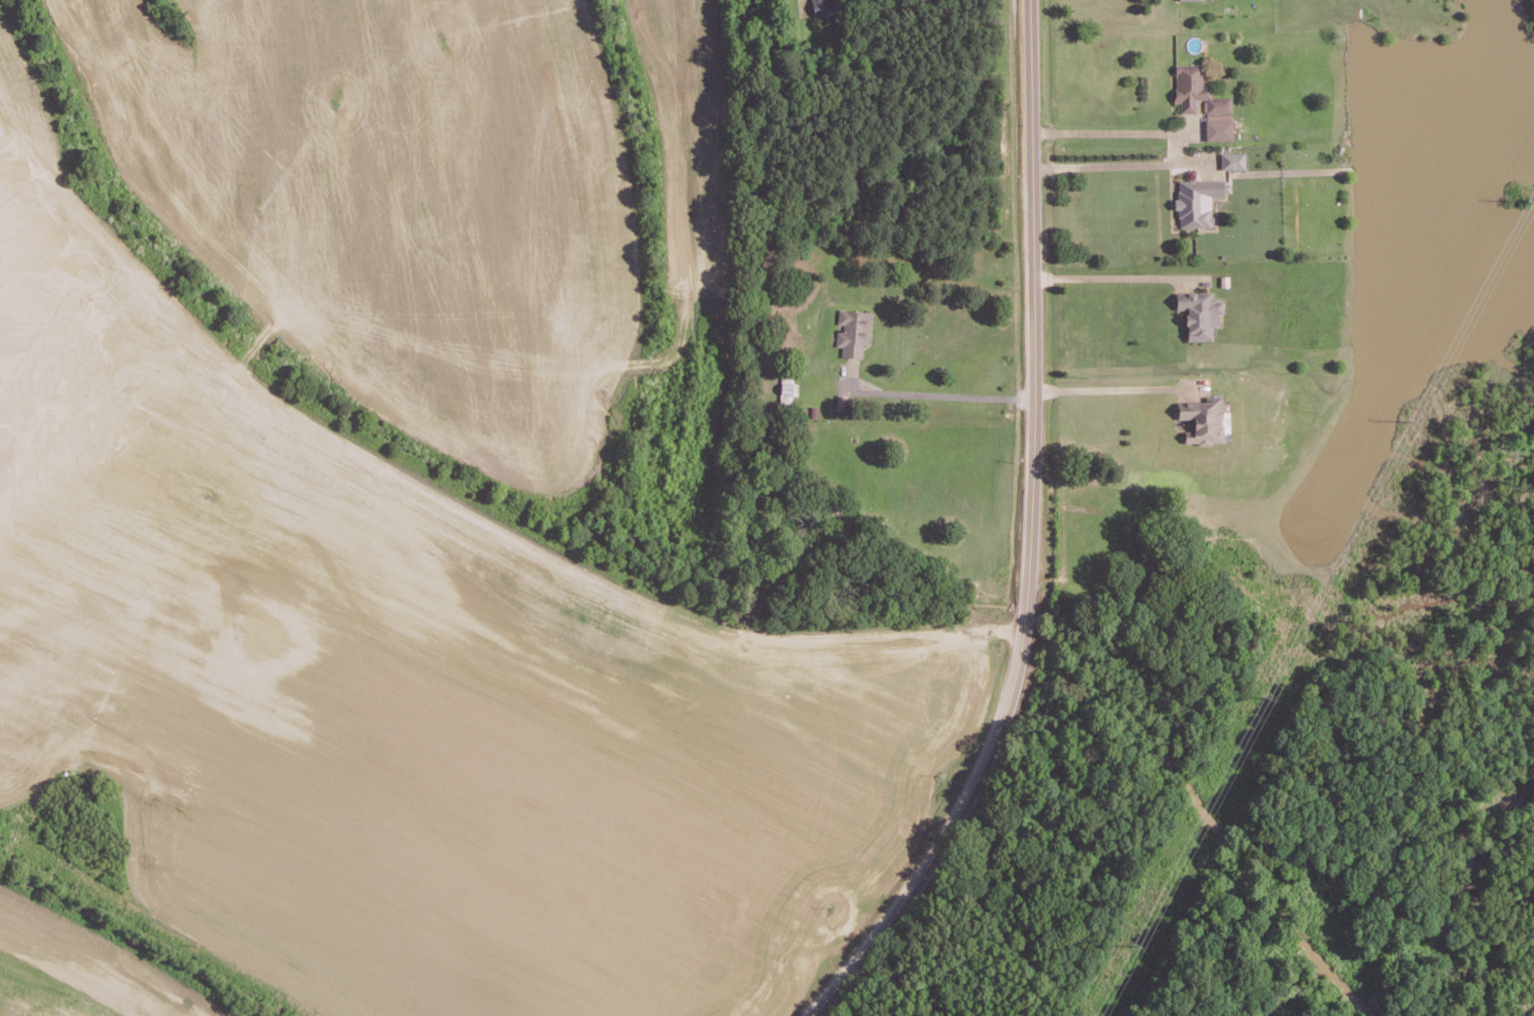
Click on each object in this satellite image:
road: (880, 5)
building: (822, 7)
building: (1197, 91)
road: (1179, 125)
building: (1217, 130)
road: (1171, 139)
road: (1178, 154)
building: (1233, 161)
power tower: (1524, 193)
building: (1198, 201)
road: (1112, 269)
building: (1199, 313)
building: (854, 332)
road: (1104, 380)
road: (953, 388)
building: (787, 390)
power tower: (1410, 412)
building: (1202, 420)
road: (1031, 538)
power tower: (1262, 691)

